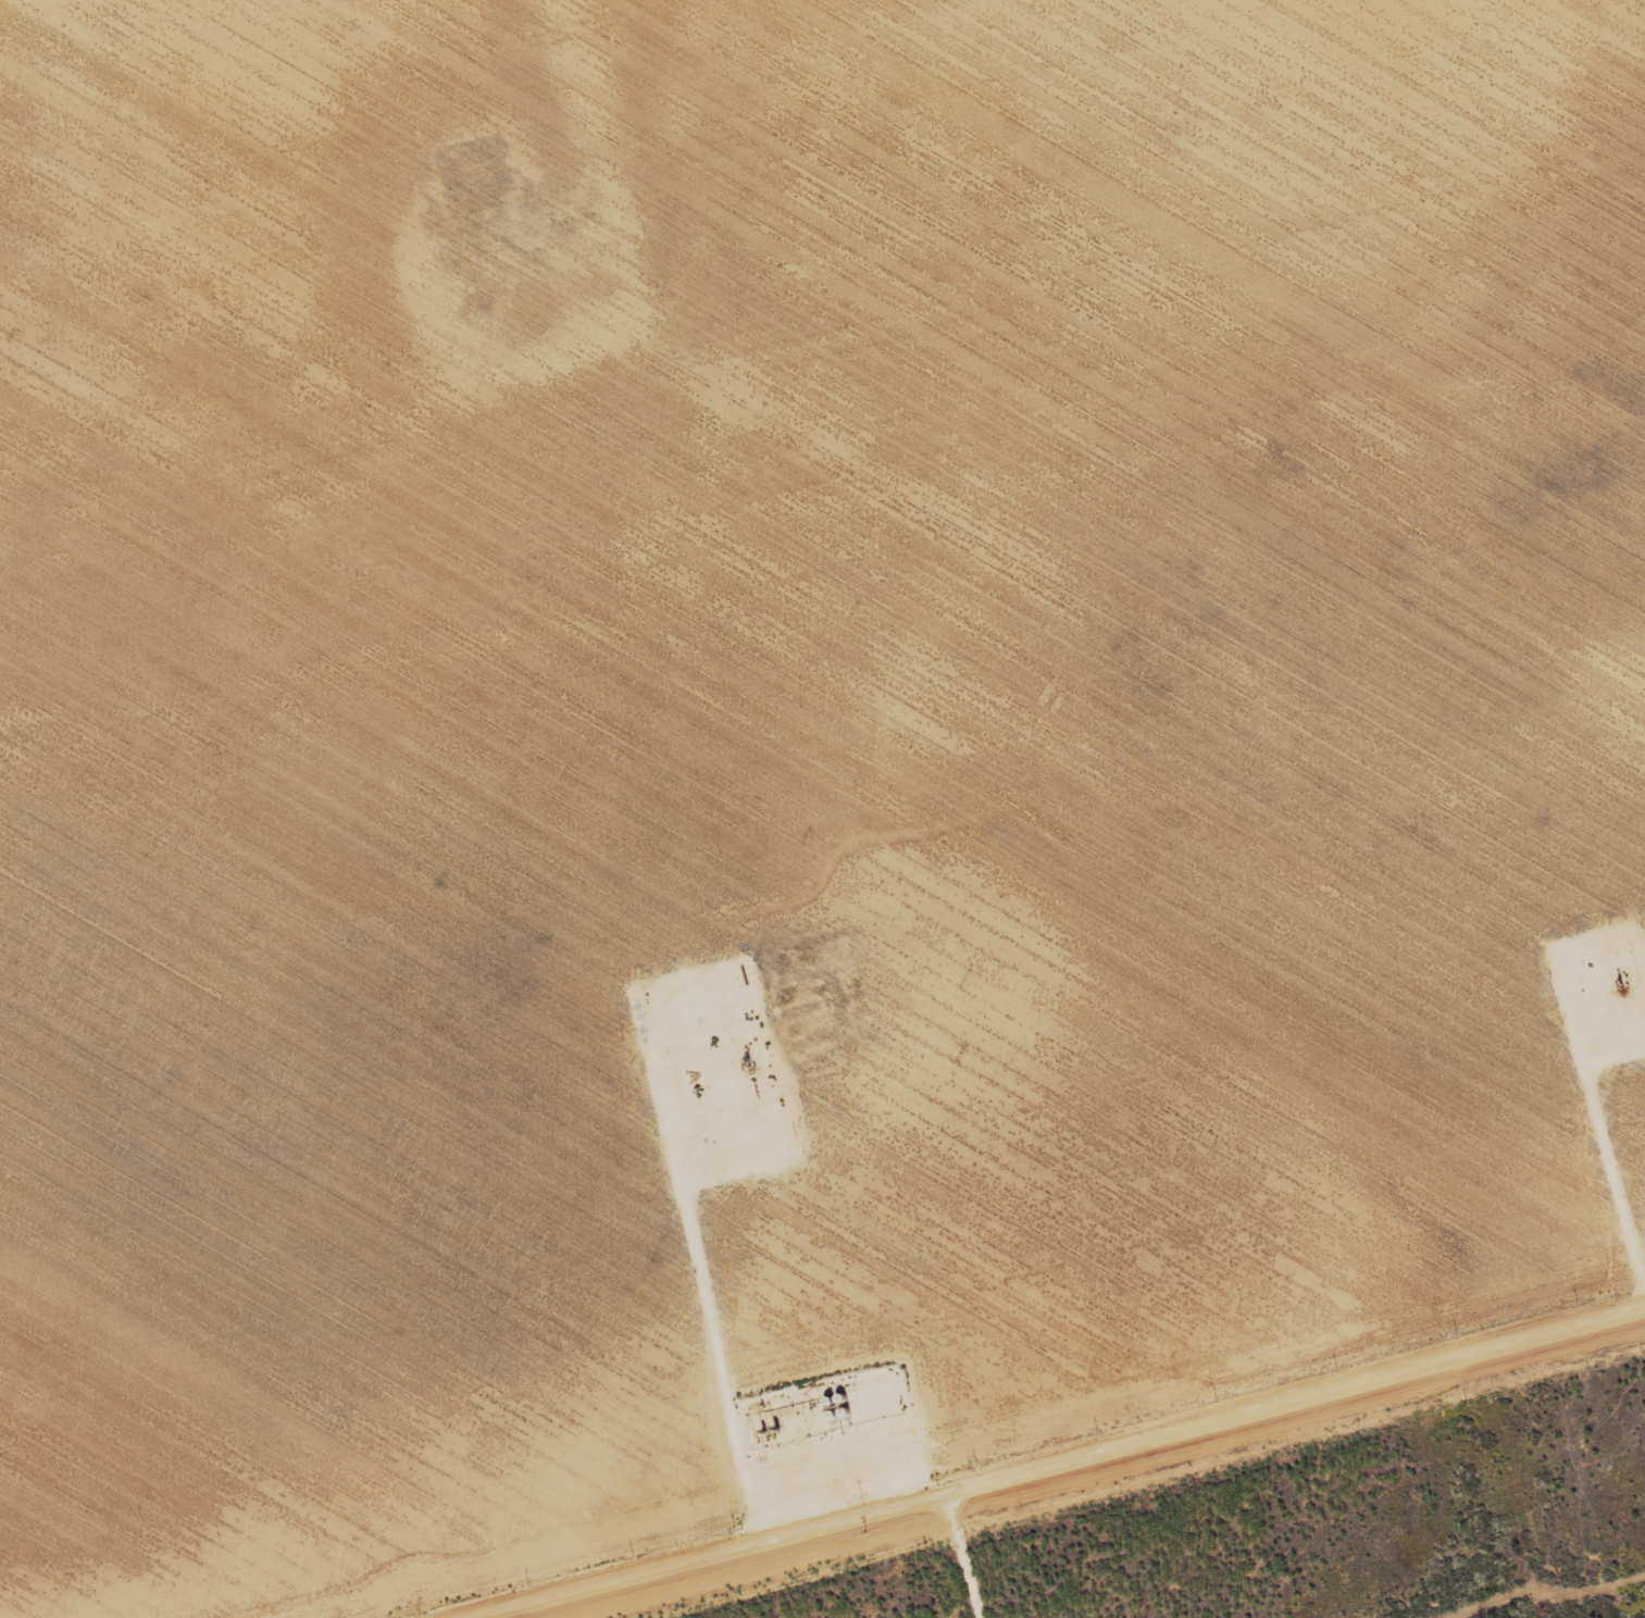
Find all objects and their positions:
road: (1116, 1481)

